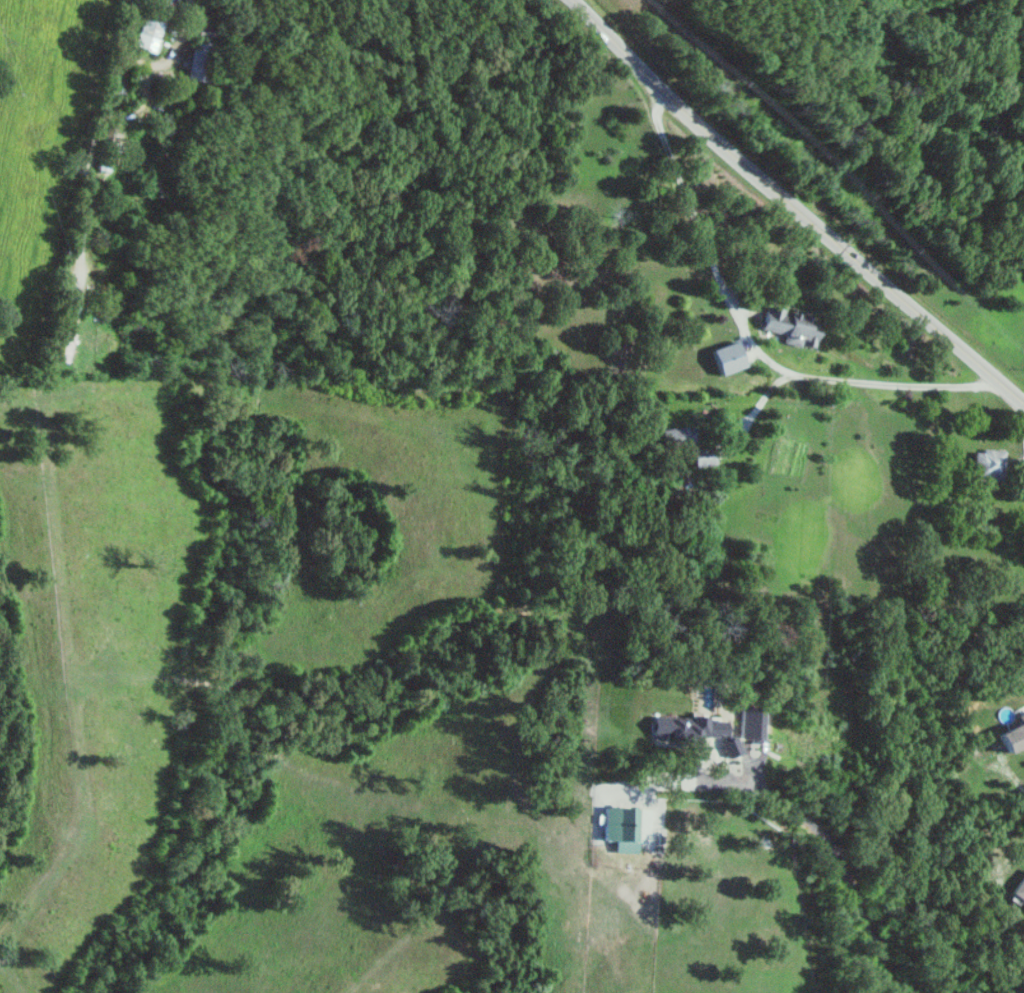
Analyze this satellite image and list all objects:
building: (149, 35)
building: (196, 62)
building: (114, 129)
road: (791, 209)
building: (789, 327)
road: (745, 334)
building: (63, 346)
building: (726, 359)
building: (678, 436)
building: (702, 457)
building: (988, 466)
building: (1023, 480)
building: (749, 723)
building: (685, 728)
building: (1013, 734)
building: (728, 747)
building: (625, 827)
building: (1019, 889)

